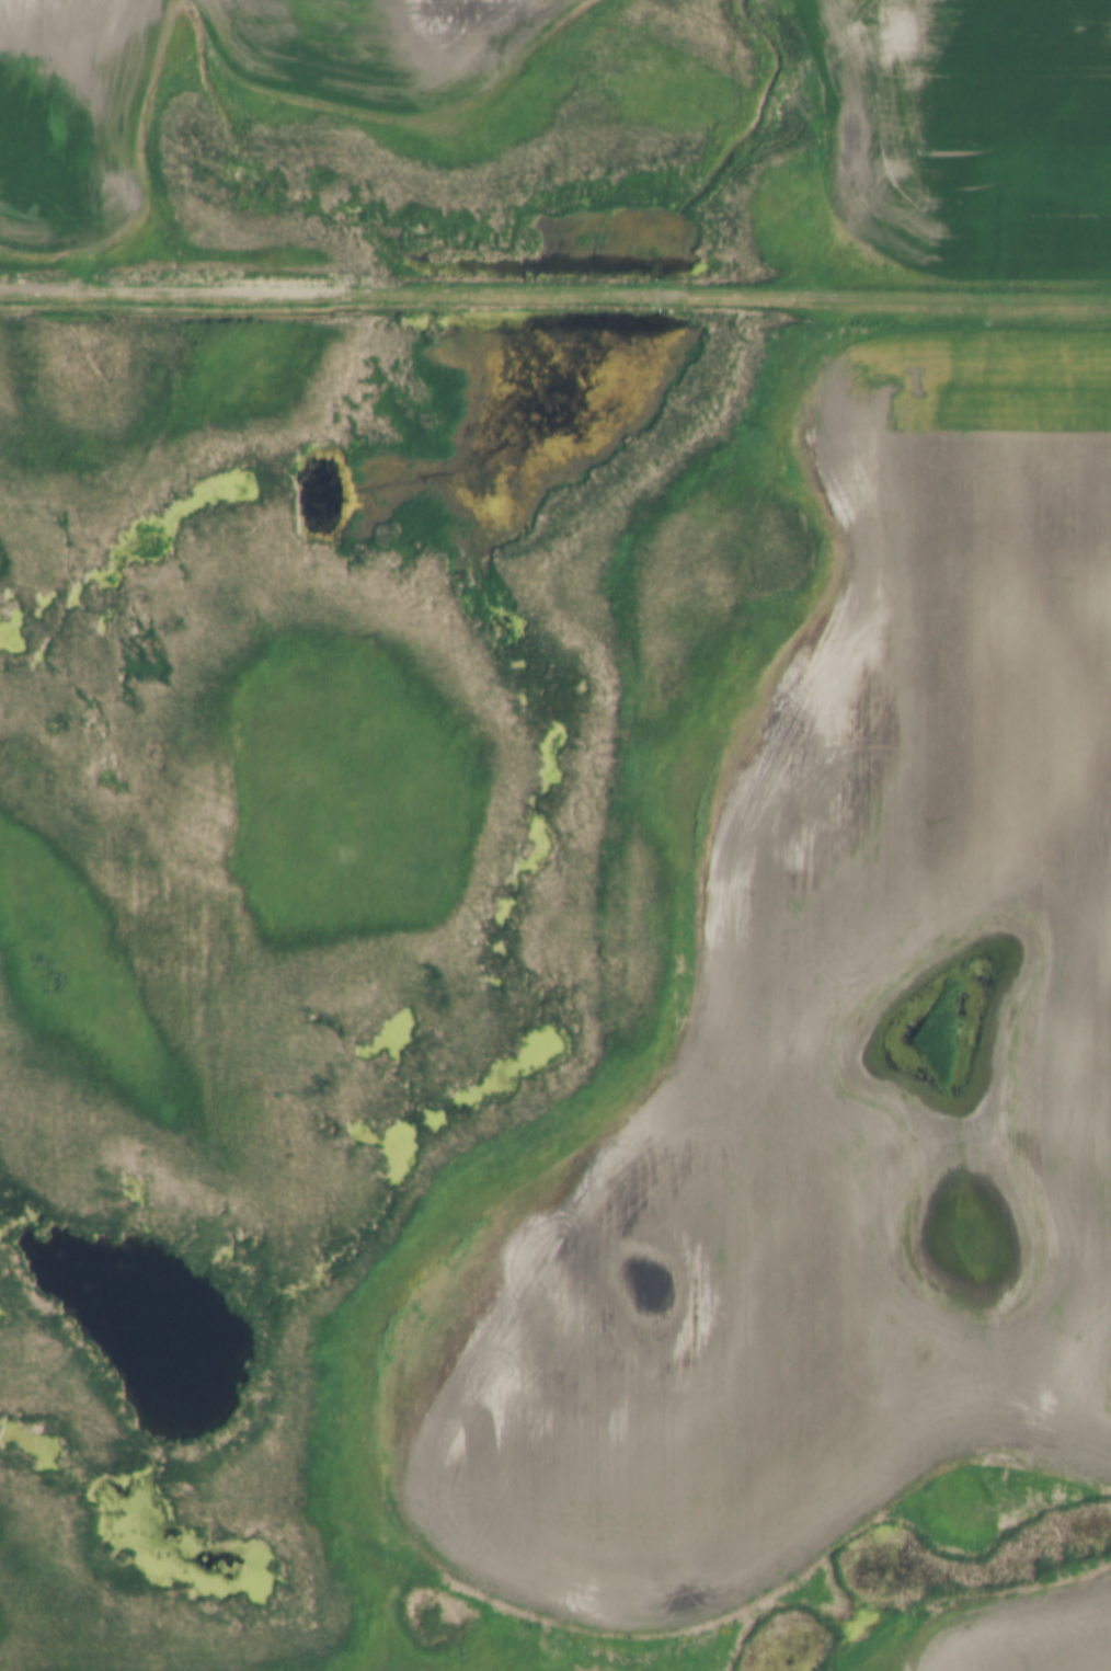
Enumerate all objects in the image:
road: (554, 294)

